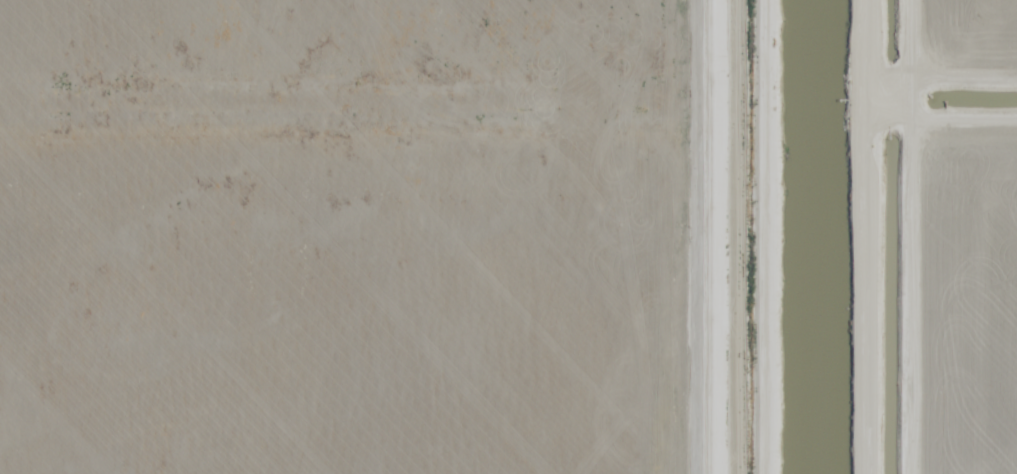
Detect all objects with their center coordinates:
road: (819, 61)
road: (941, 120)
road: (842, 121)
road: (713, 236)
road: (862, 297)

